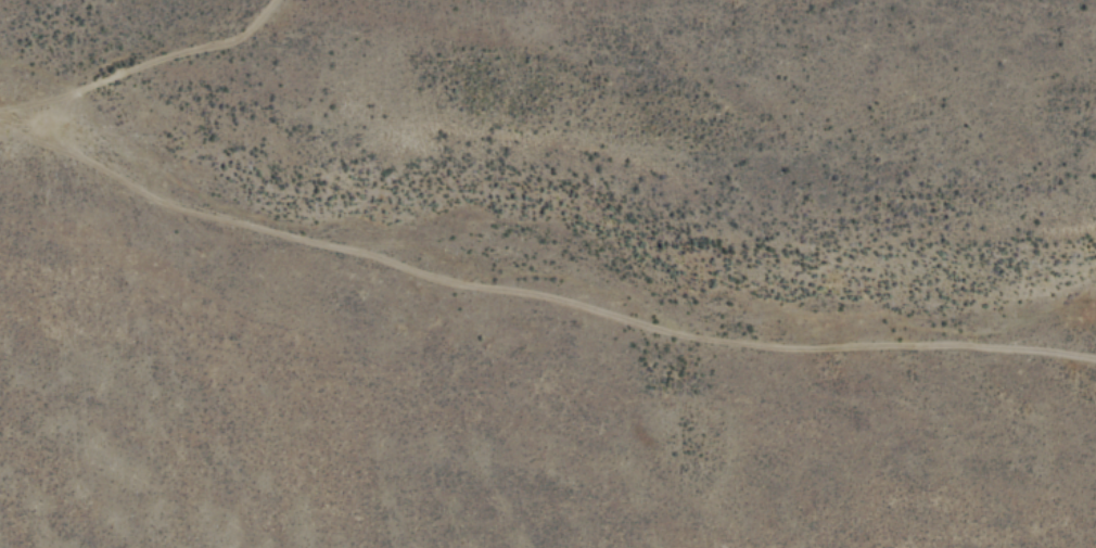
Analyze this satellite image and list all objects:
road: (150, 65)
road: (535, 292)

